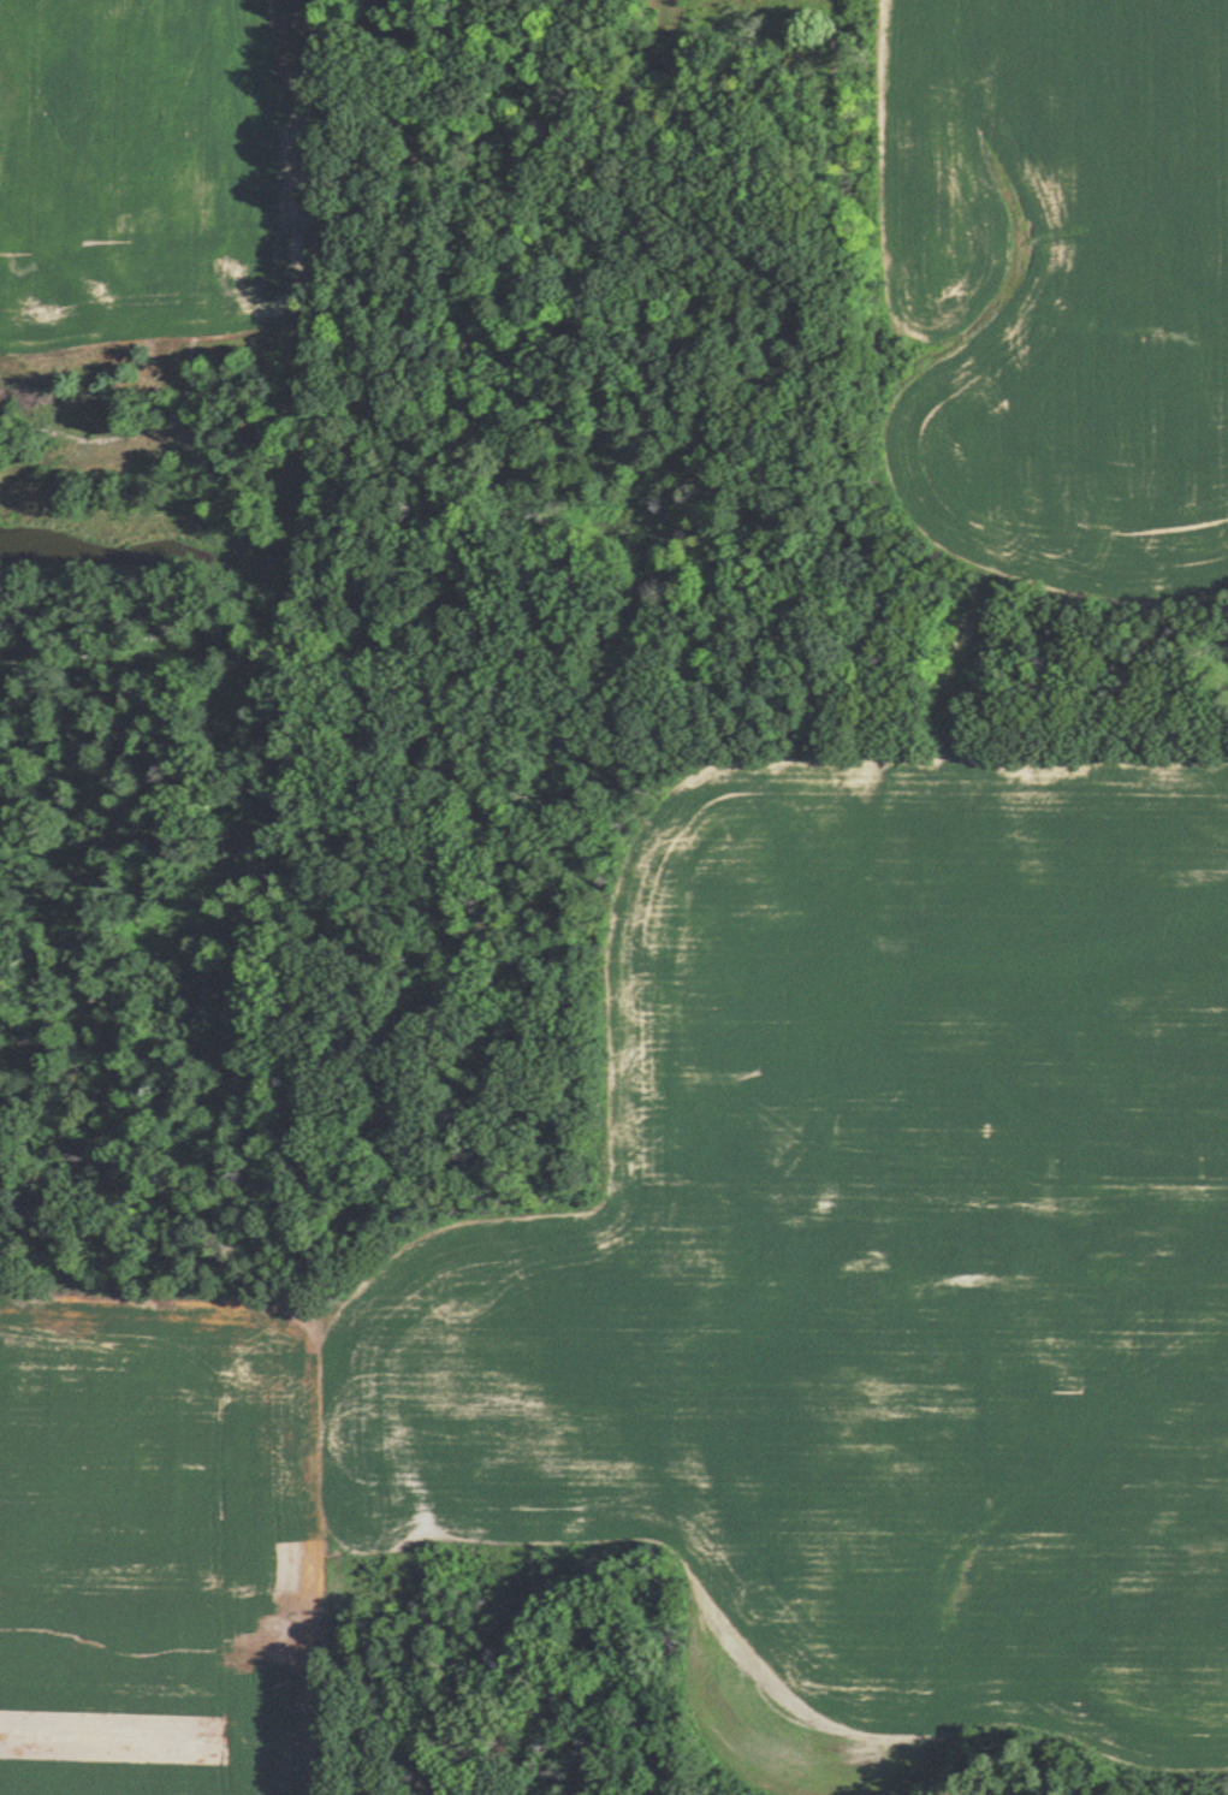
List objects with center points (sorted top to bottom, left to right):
crop: (1056, 289)
park: (148, 353)

